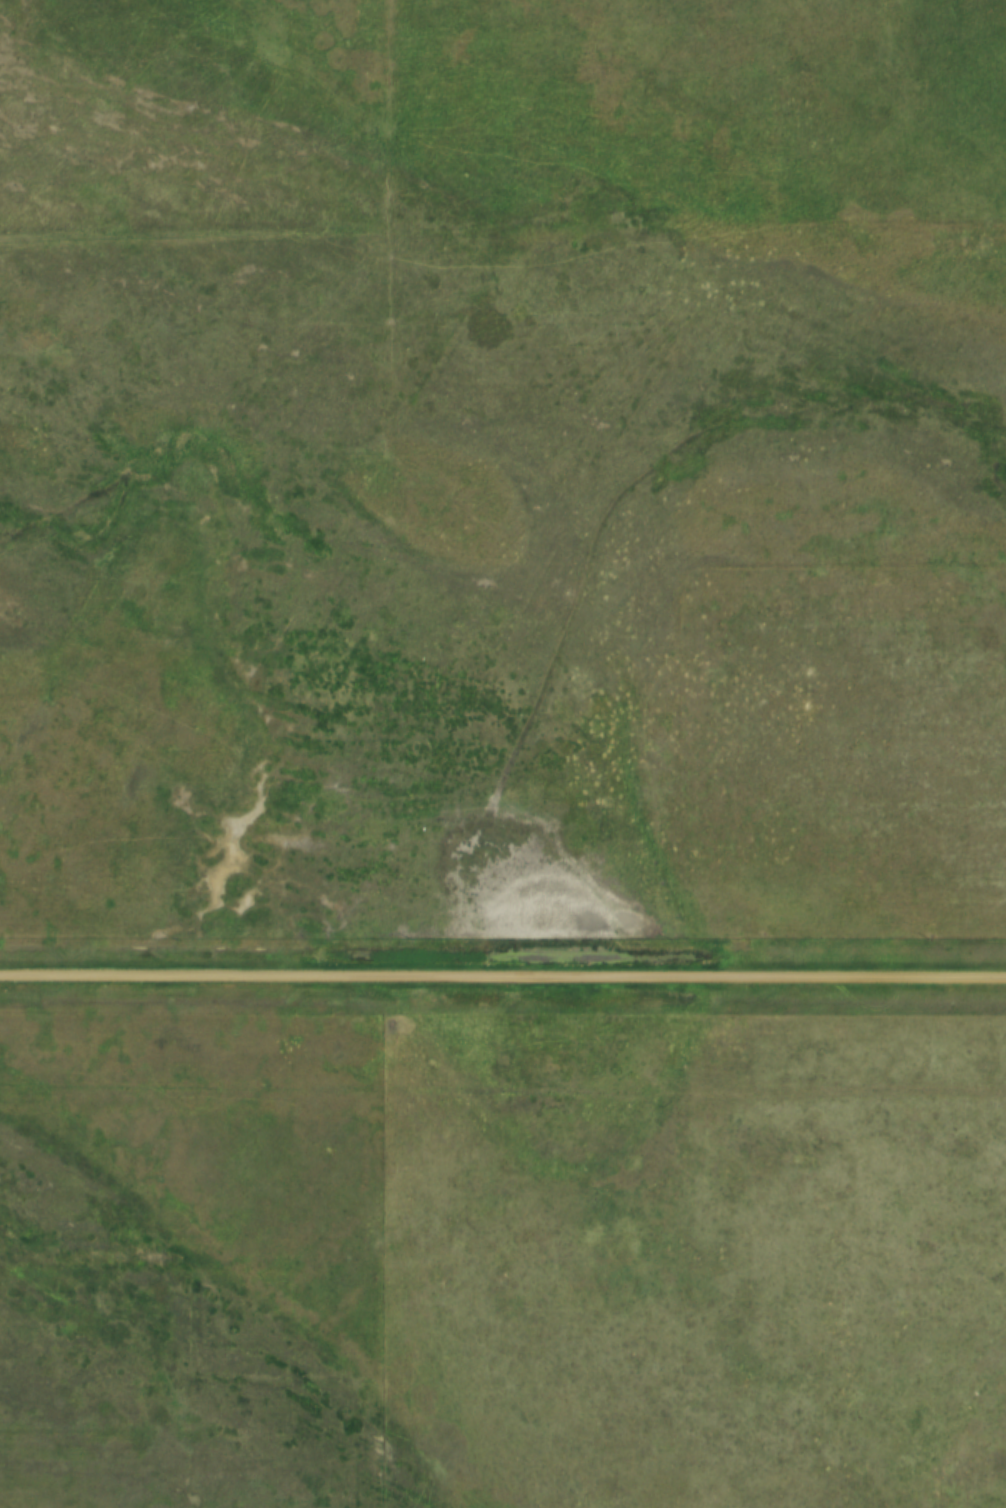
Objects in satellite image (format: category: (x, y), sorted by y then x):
road: (502, 977)

